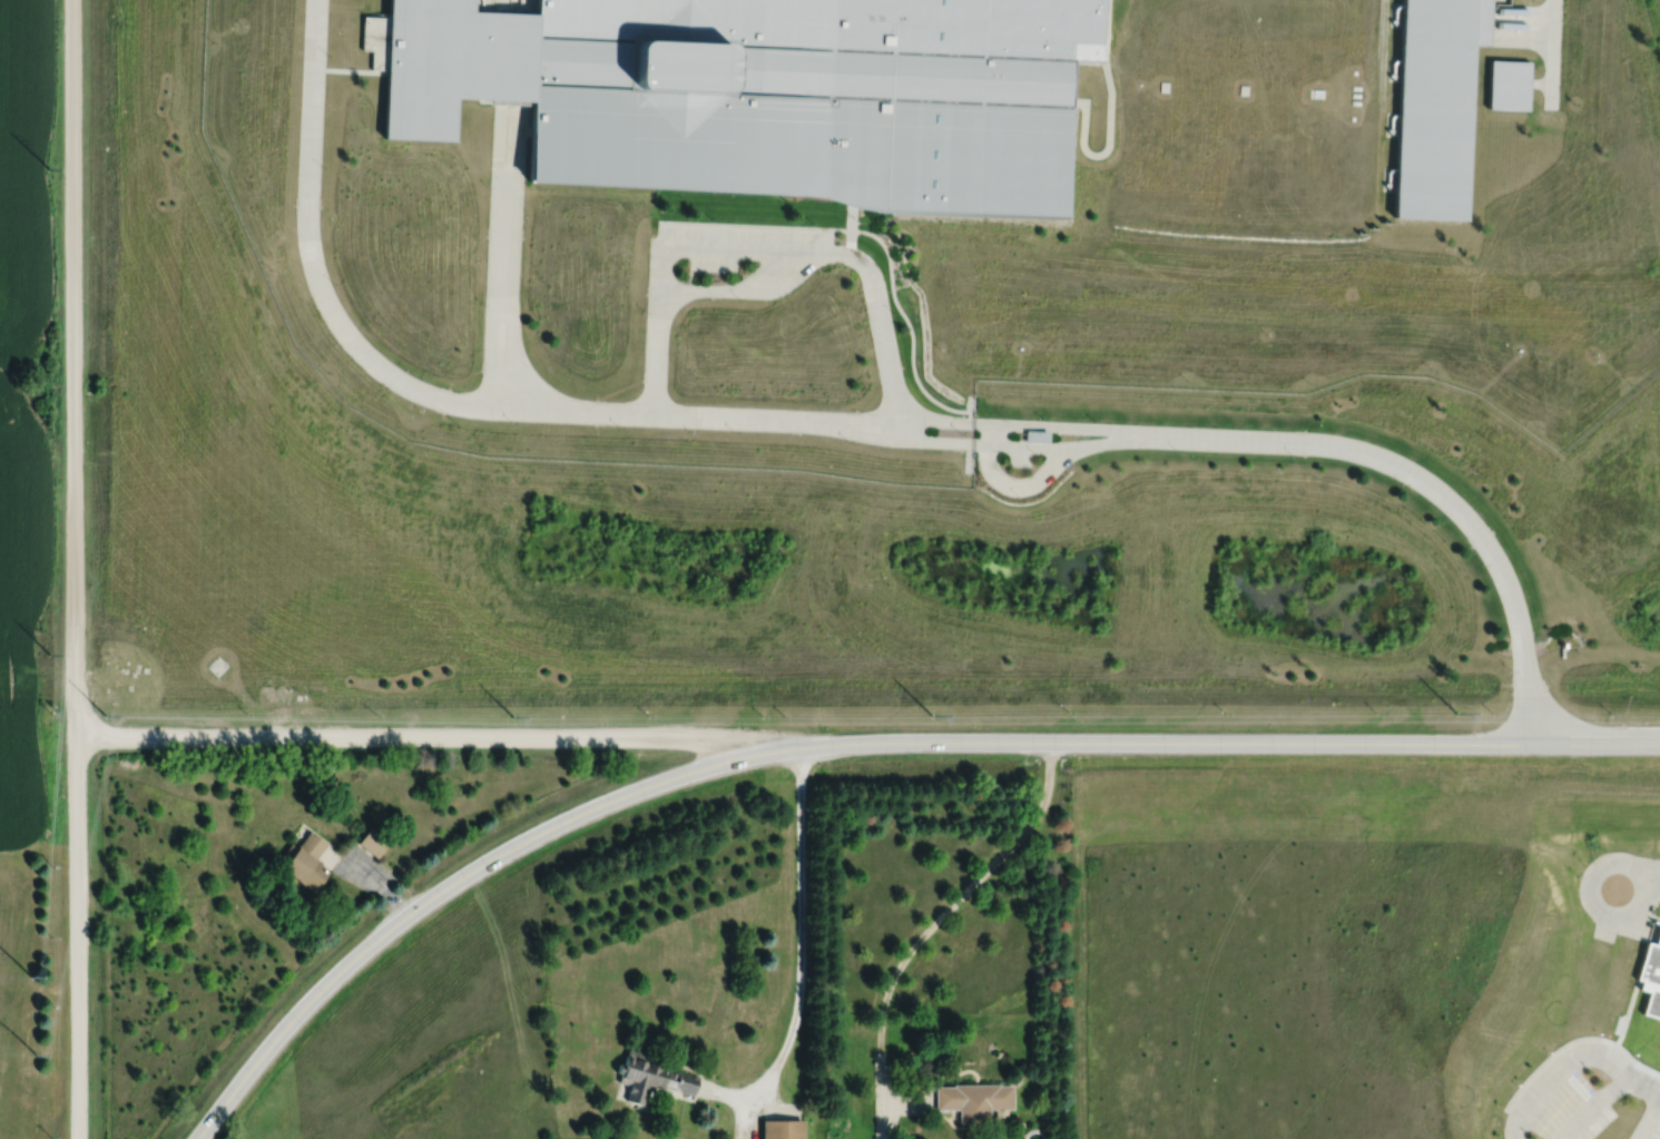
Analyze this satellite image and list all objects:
road: (502, 6)
road: (527, 6)
road: (1556, 12)
road: (1525, 24)
building: (376, 39)
road: (1384, 55)
road: (1555, 56)
building: (454, 62)
building: (1512, 84)
road: (1543, 85)
building: (821, 98)
road: (1553, 98)
building: (1438, 105)
road: (1112, 116)
road: (854, 217)
road: (759, 224)
parking lot: (741, 239)
road: (853, 242)
road: (720, 246)
road: (311, 252)
road: (494, 253)
road: (517, 254)
road: (693, 267)
road: (747, 289)
road: (883, 328)
road: (911, 330)
road: (657, 352)
road: (499, 408)
road: (582, 412)
road: (708, 416)
road: (885, 418)
road: (1090, 428)
road: (996, 433)
building: (1039, 434)
road: (876, 438)
road: (1123, 441)
road: (1033, 448)
road: (1399, 467)
road: (1024, 488)
road: (72, 569)
dam: (1637, 650)
road: (1526, 697)
road: (1565, 720)
road: (438, 736)
road: (1230, 743)
building: (372, 842)
building: (310, 861)
road: (460, 880)
road: (1651, 880)
road: (371, 882)
road: (1591, 894)
road: (802, 910)
road: (945, 913)
road: (1633, 934)
building: (1652, 973)
road: (1628, 1012)
road: (1552, 1057)
road: (1570, 1059)
road: (1637, 1061)
building: (651, 1077)
road: (759, 1084)
road: (778, 1091)
road: (724, 1096)
building: (973, 1099)
road: (1594, 1104)
road: (906, 1106)
parking lot: (1568, 1106)
road: (1650, 1117)
road: (747, 1120)
road: (882, 1122)
parking lot: (1652, 1127)
building: (782, 1128)

